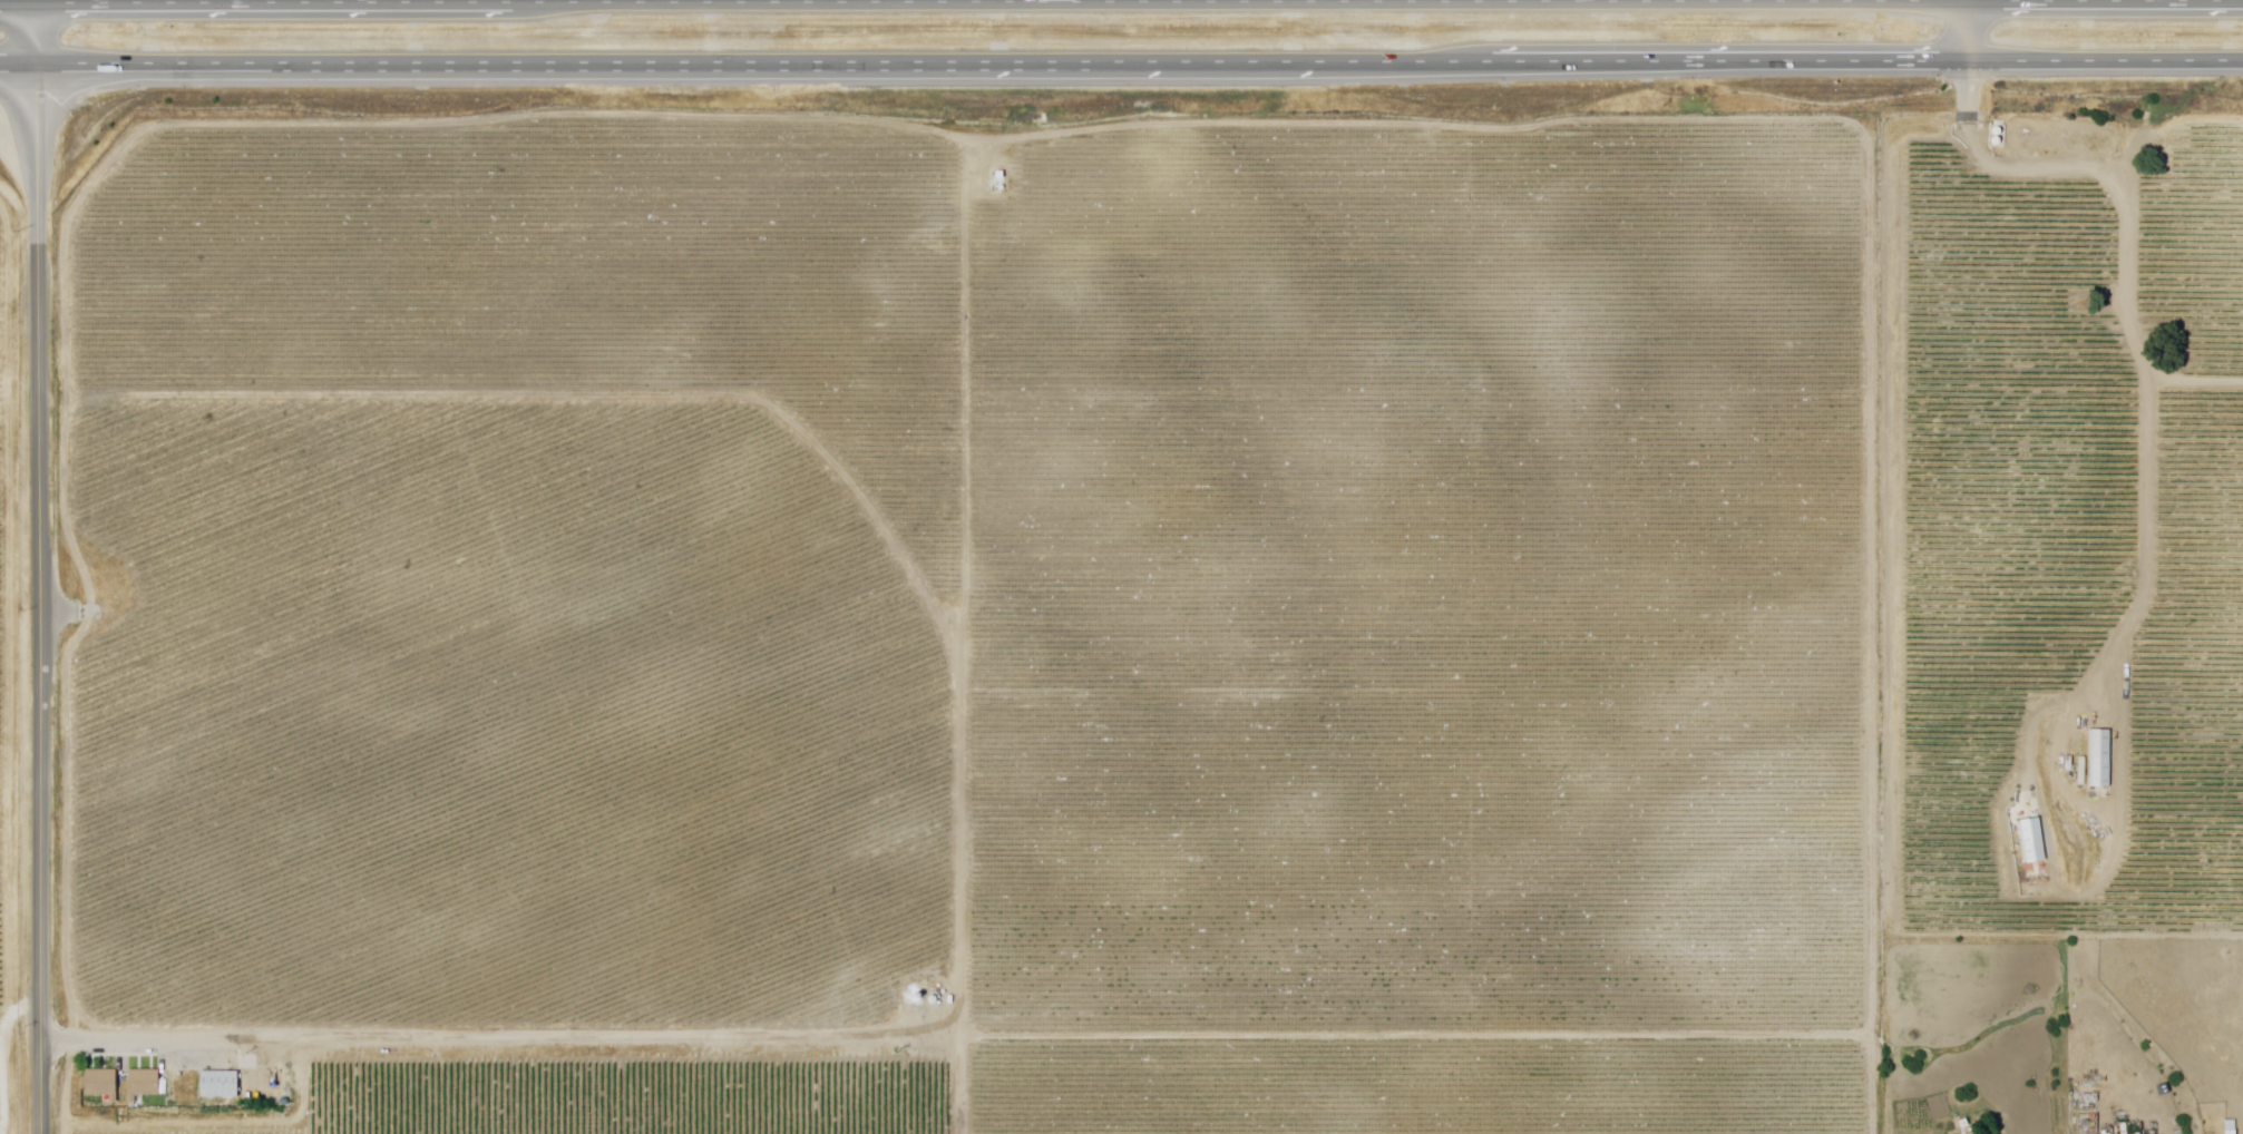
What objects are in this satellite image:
road: (1978, 1)
road: (1139, 2)
road: (18, 4)
road: (1964, 30)
road: (1139, 61)
road: (18, 63)
road: (109, 170)
road: (1884, 219)
road: (969, 251)
road: (2129, 335)
road: (39, 569)
road: (963, 645)
building: (2103, 761)
building: (2034, 840)
building: (2047, 881)
road: (1423, 1038)
road: (503, 1042)
building: (105, 1085)
building: (146, 1085)
building: (222, 1085)
road: (962, 1086)
road: (1884, 1086)
road: (221, 1123)

